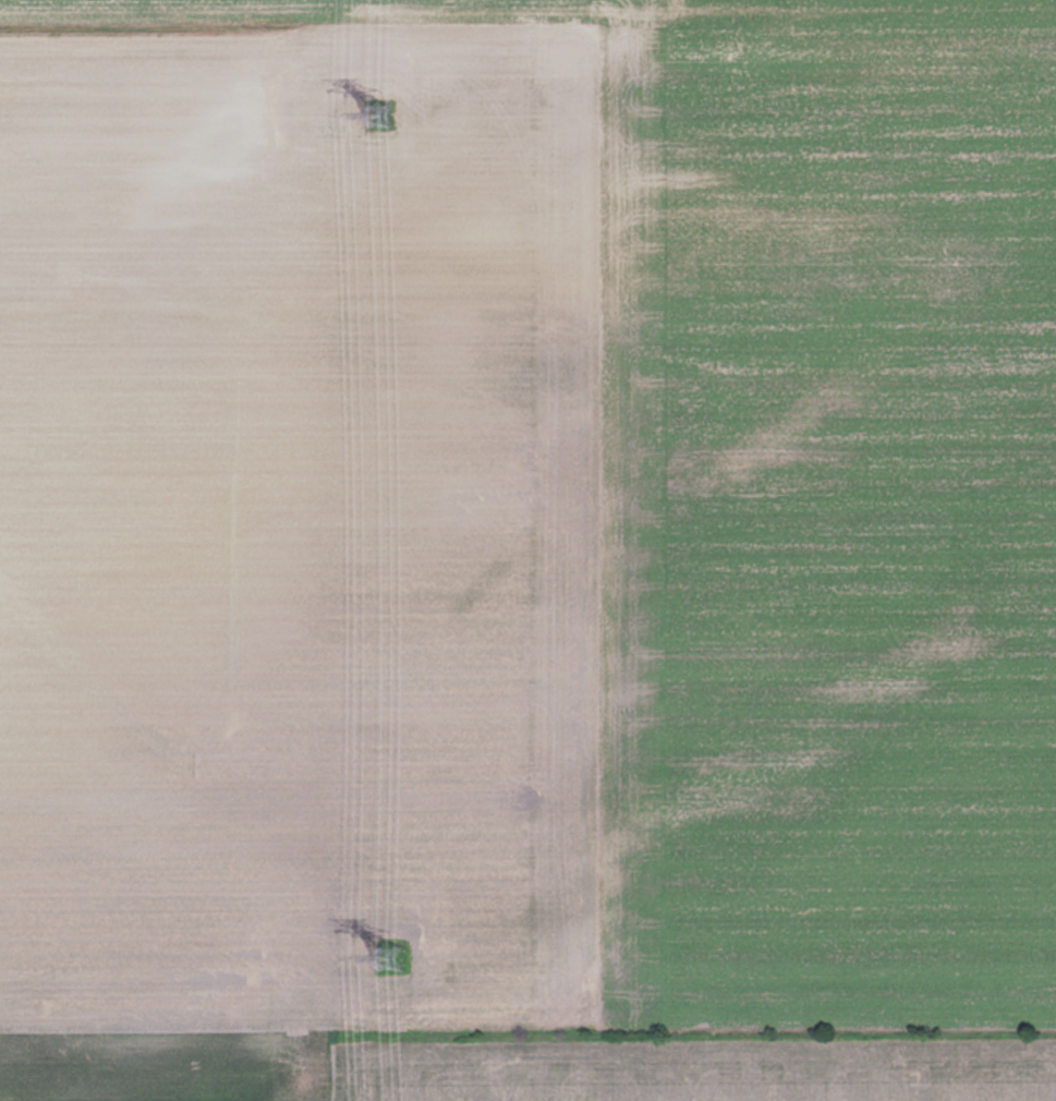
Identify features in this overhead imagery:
power tower: (379, 113)
power tower: (389, 956)

